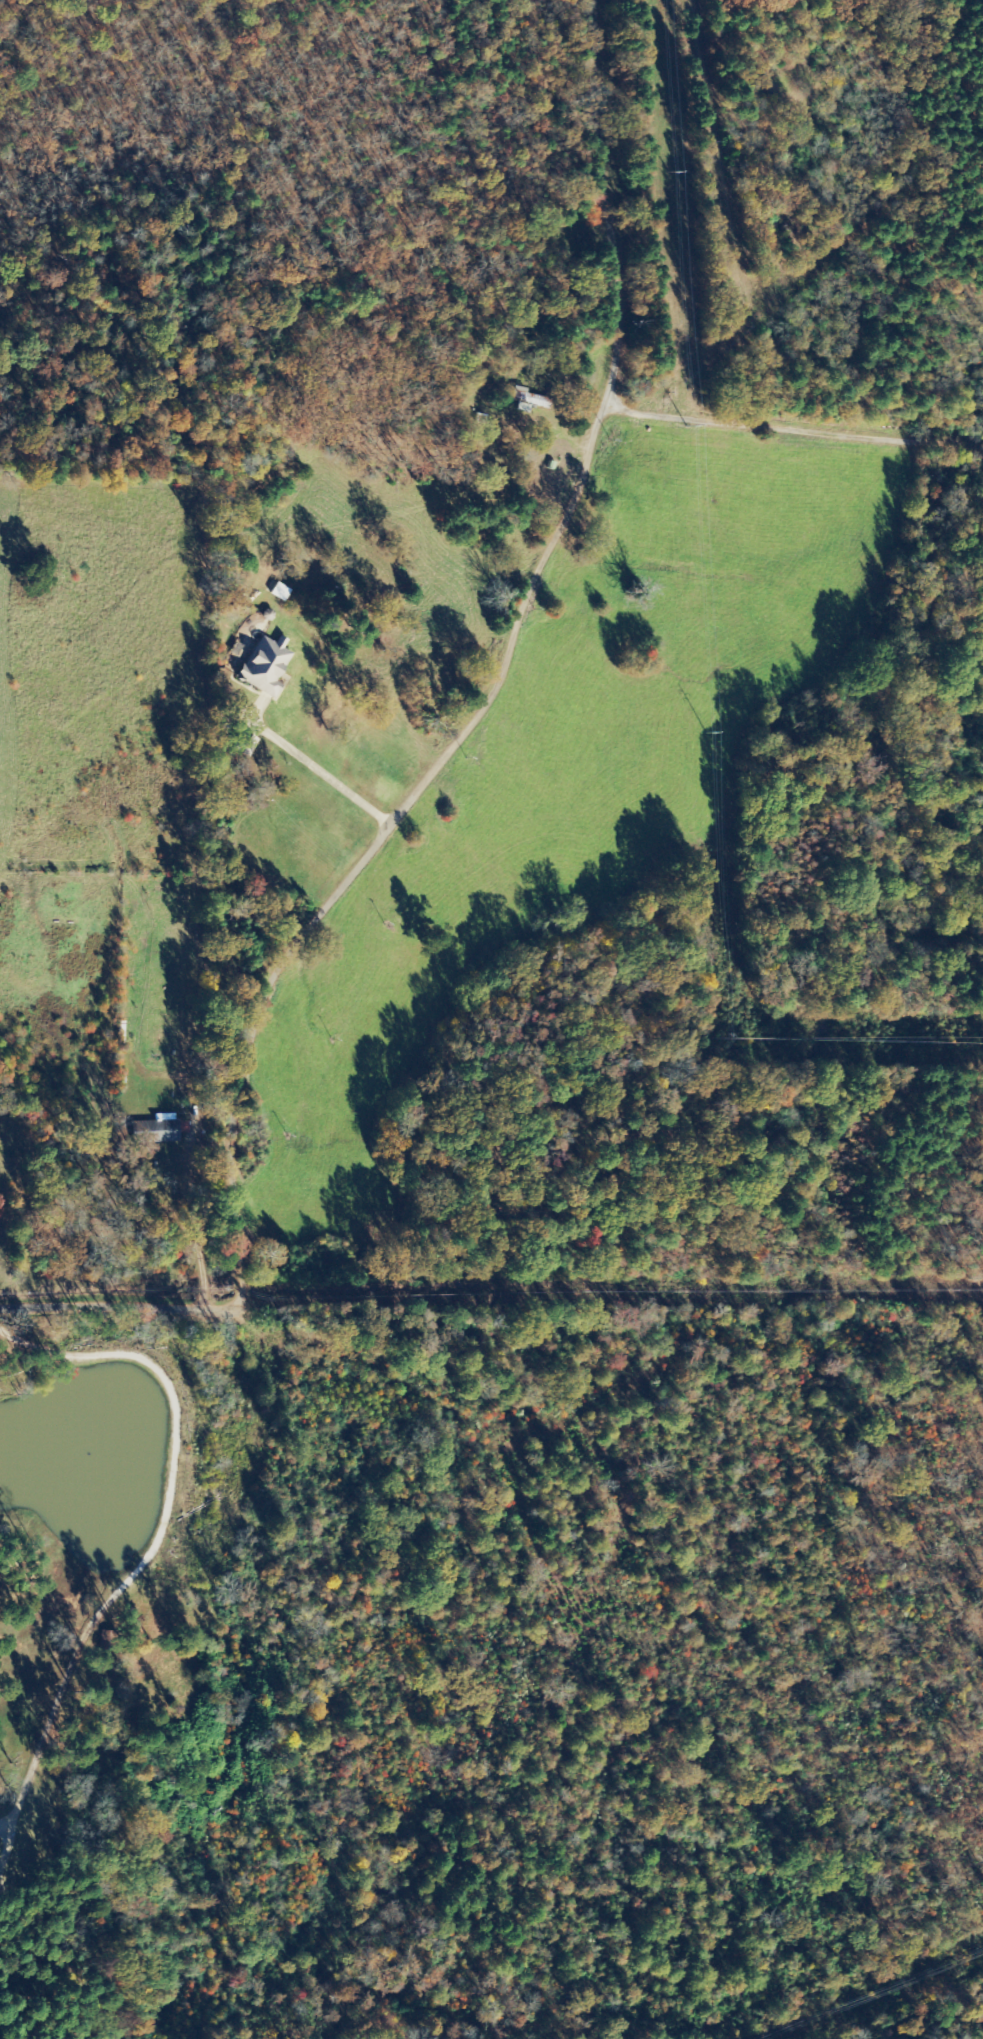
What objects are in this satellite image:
road: (794, 423)
building: (265, 664)
road: (498, 679)
road: (306, 763)
building: (183, 1127)
building: (156, 1130)
road: (183, 1238)
road: (122, 1303)
road: (153, 1534)
road: (2, 1828)
road: (3, 1842)

